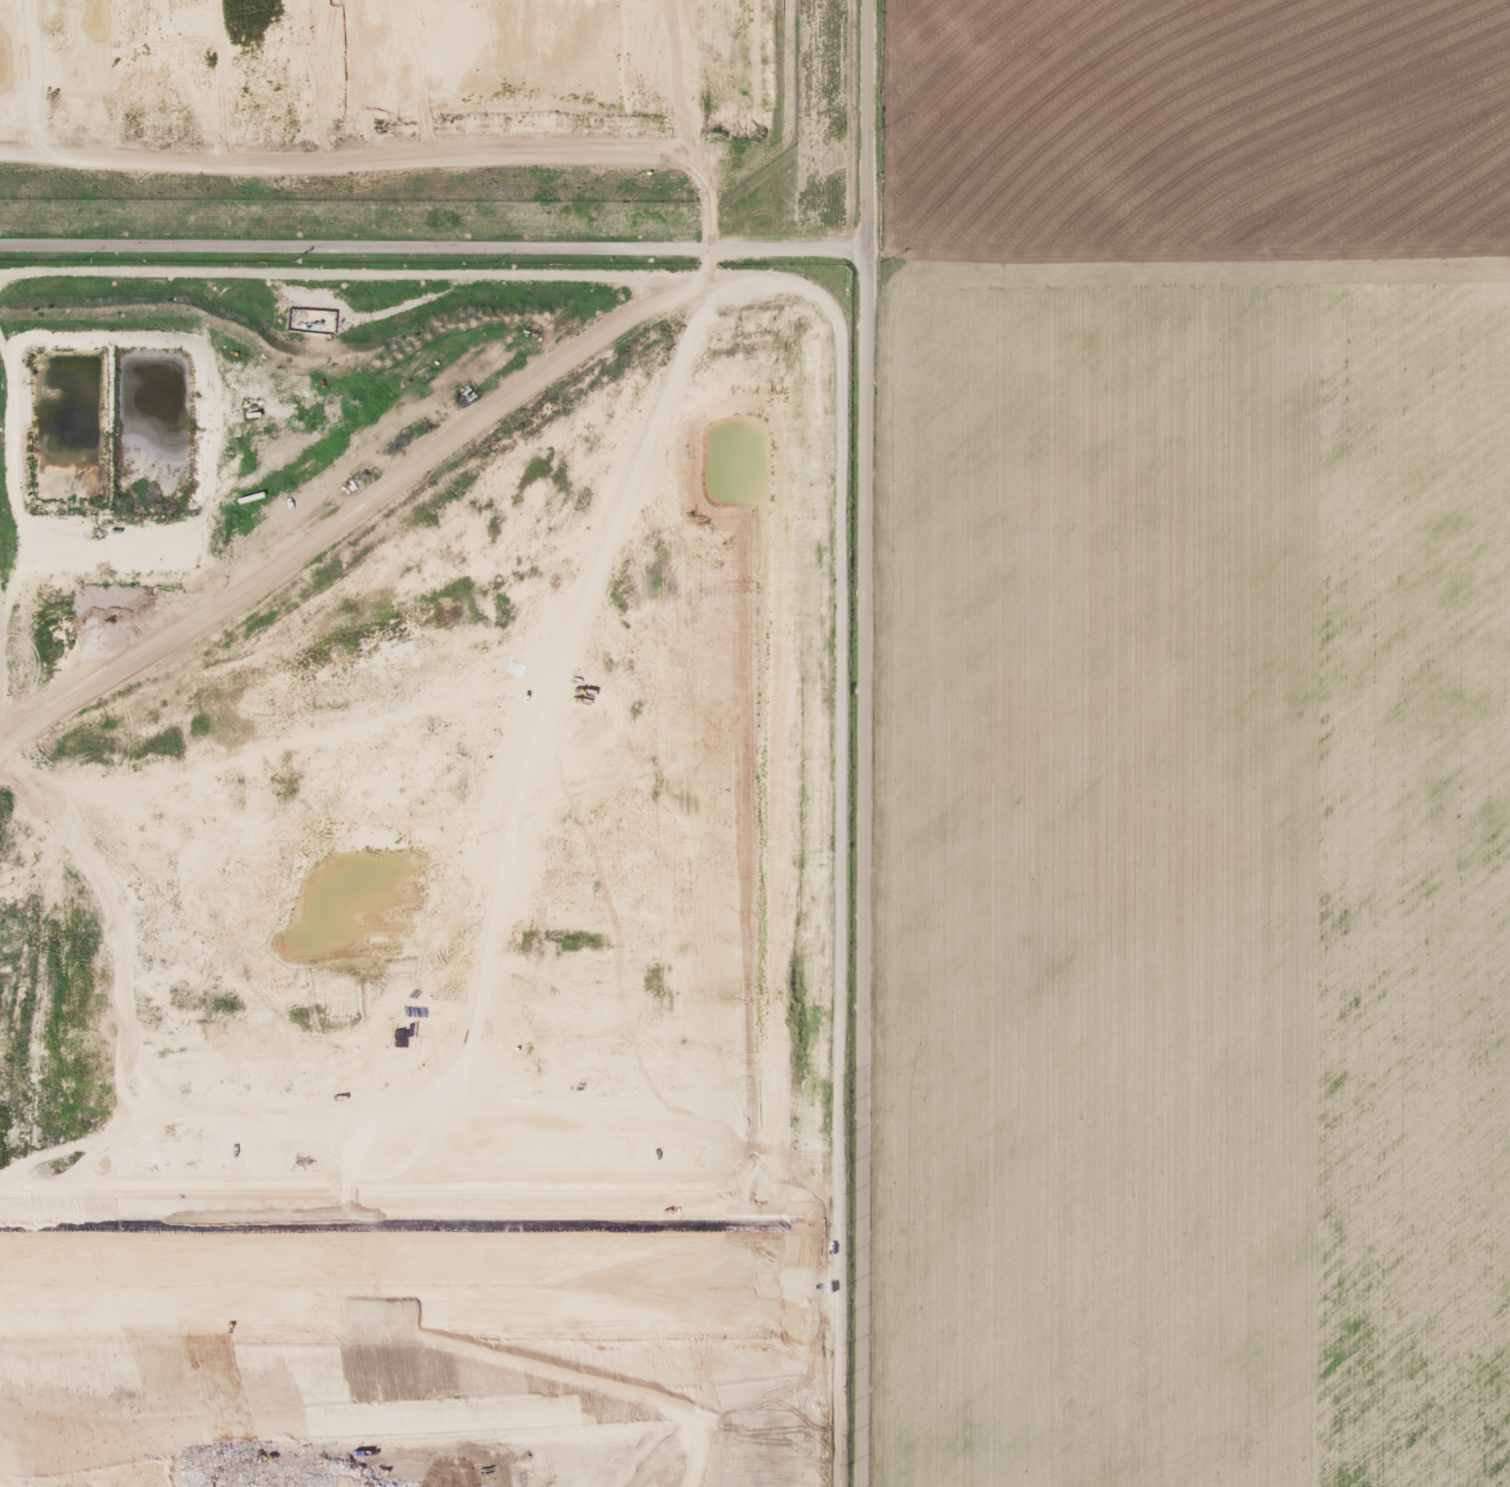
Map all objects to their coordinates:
road: (432, 247)
road: (863, 743)

